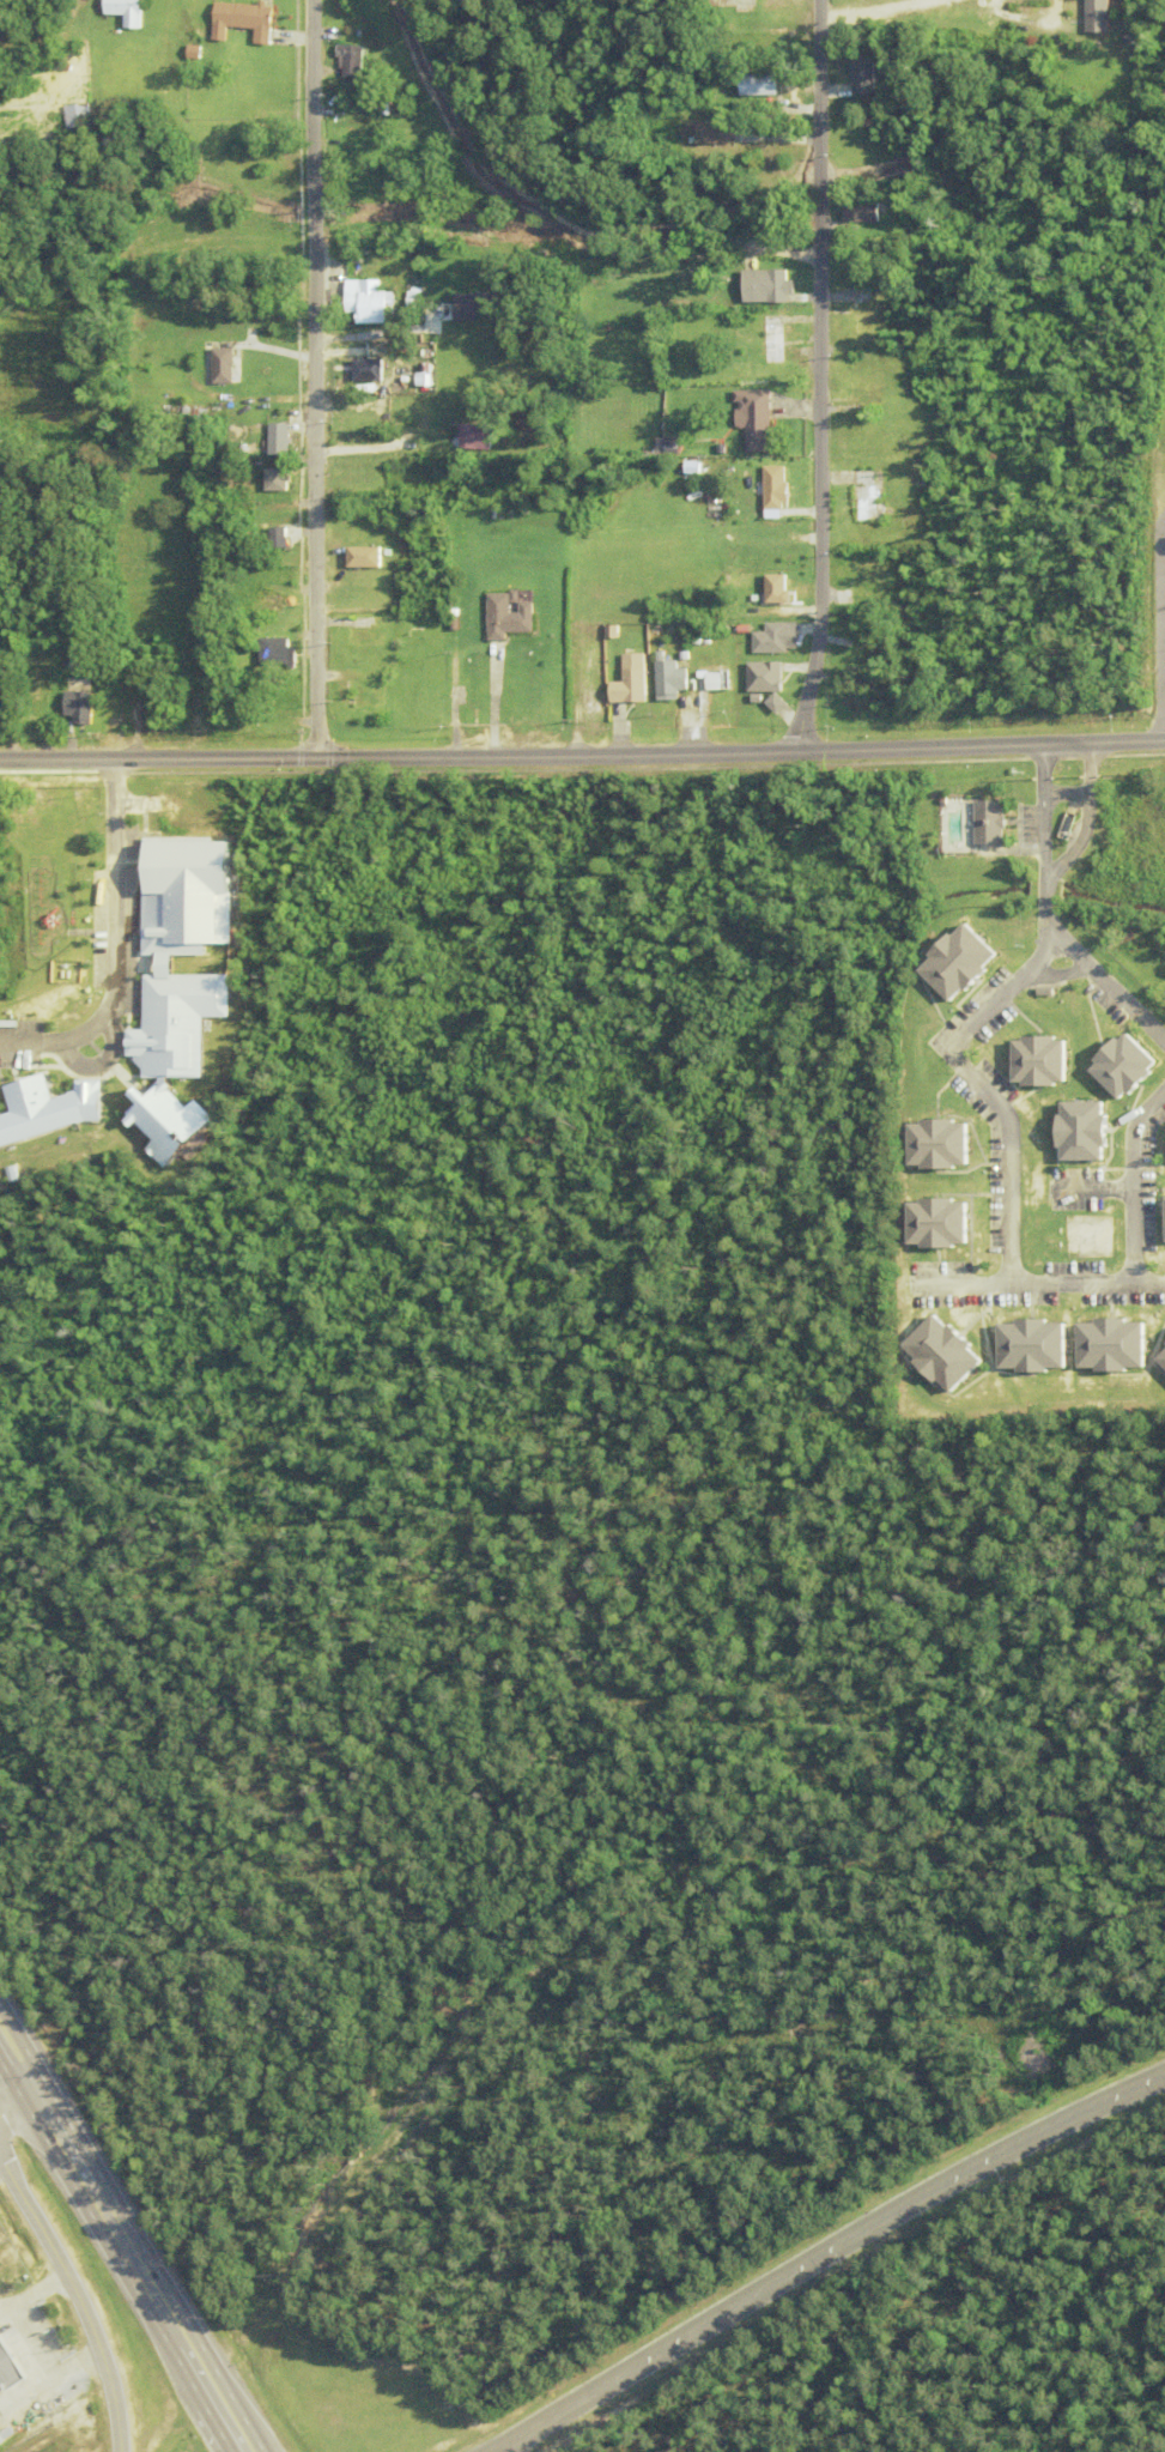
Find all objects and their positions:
building: (733, 6)
road: (869, 7)
building: (125, 11)
building: (1100, 16)
building: (245, 19)
building: (352, 60)
building: (863, 74)
building: (760, 85)
building: (73, 115)
building: (861, 212)
building: (766, 286)
building: (366, 301)
building: (469, 307)
building: (869, 308)
road: (371, 333)
building: (776, 339)
building: (224, 365)
building: (368, 368)
road: (817, 376)
road: (311, 377)
building: (868, 396)
building: (756, 420)
building: (360, 437)
building: (473, 438)
building: (281, 440)
building: (289, 479)
building: (776, 490)
building: (869, 496)
building: (283, 538)
building: (369, 568)
building: (872, 571)
building: (778, 589)
building: (278, 603)
building: (511, 617)
building: (369, 631)
building: (771, 640)
building: (279, 652)
building: (671, 678)
building: (766, 678)
building: (711, 680)
building: (595, 682)
building: (633, 682)
building: (148, 697)
building: (370, 697)
building: (81, 707)
road: (582, 753)
road: (114, 791)
road: (1066, 792)
road: (1043, 806)
road: (1086, 816)
building: (994, 822)
building: (188, 951)
building: (949, 963)
road: (1087, 963)
road: (117, 979)
building: (1030, 1062)
building: (1114, 1066)
road: (991, 1090)
building: (56, 1110)
building: (181, 1122)
building: (1070, 1133)
building: (1163, 1144)
building: (928, 1146)
road: (1147, 1192)
building: (1159, 1221)
building: (926, 1225)
road: (1042, 1284)
building: (1021, 1348)
building: (1103, 1348)
building: (932, 1356)
building: (1158, 1360)
road: (20, 2053)
road: (8, 2088)
road: (20, 2101)
road: (74, 2143)
road: (0, 2163)
road: (80, 2208)
road: (829, 2254)
road: (77, 2299)
road: (183, 2325)
road: (160, 2341)
building: (12, 2365)
road: (204, 2411)
building: (4, 2439)

